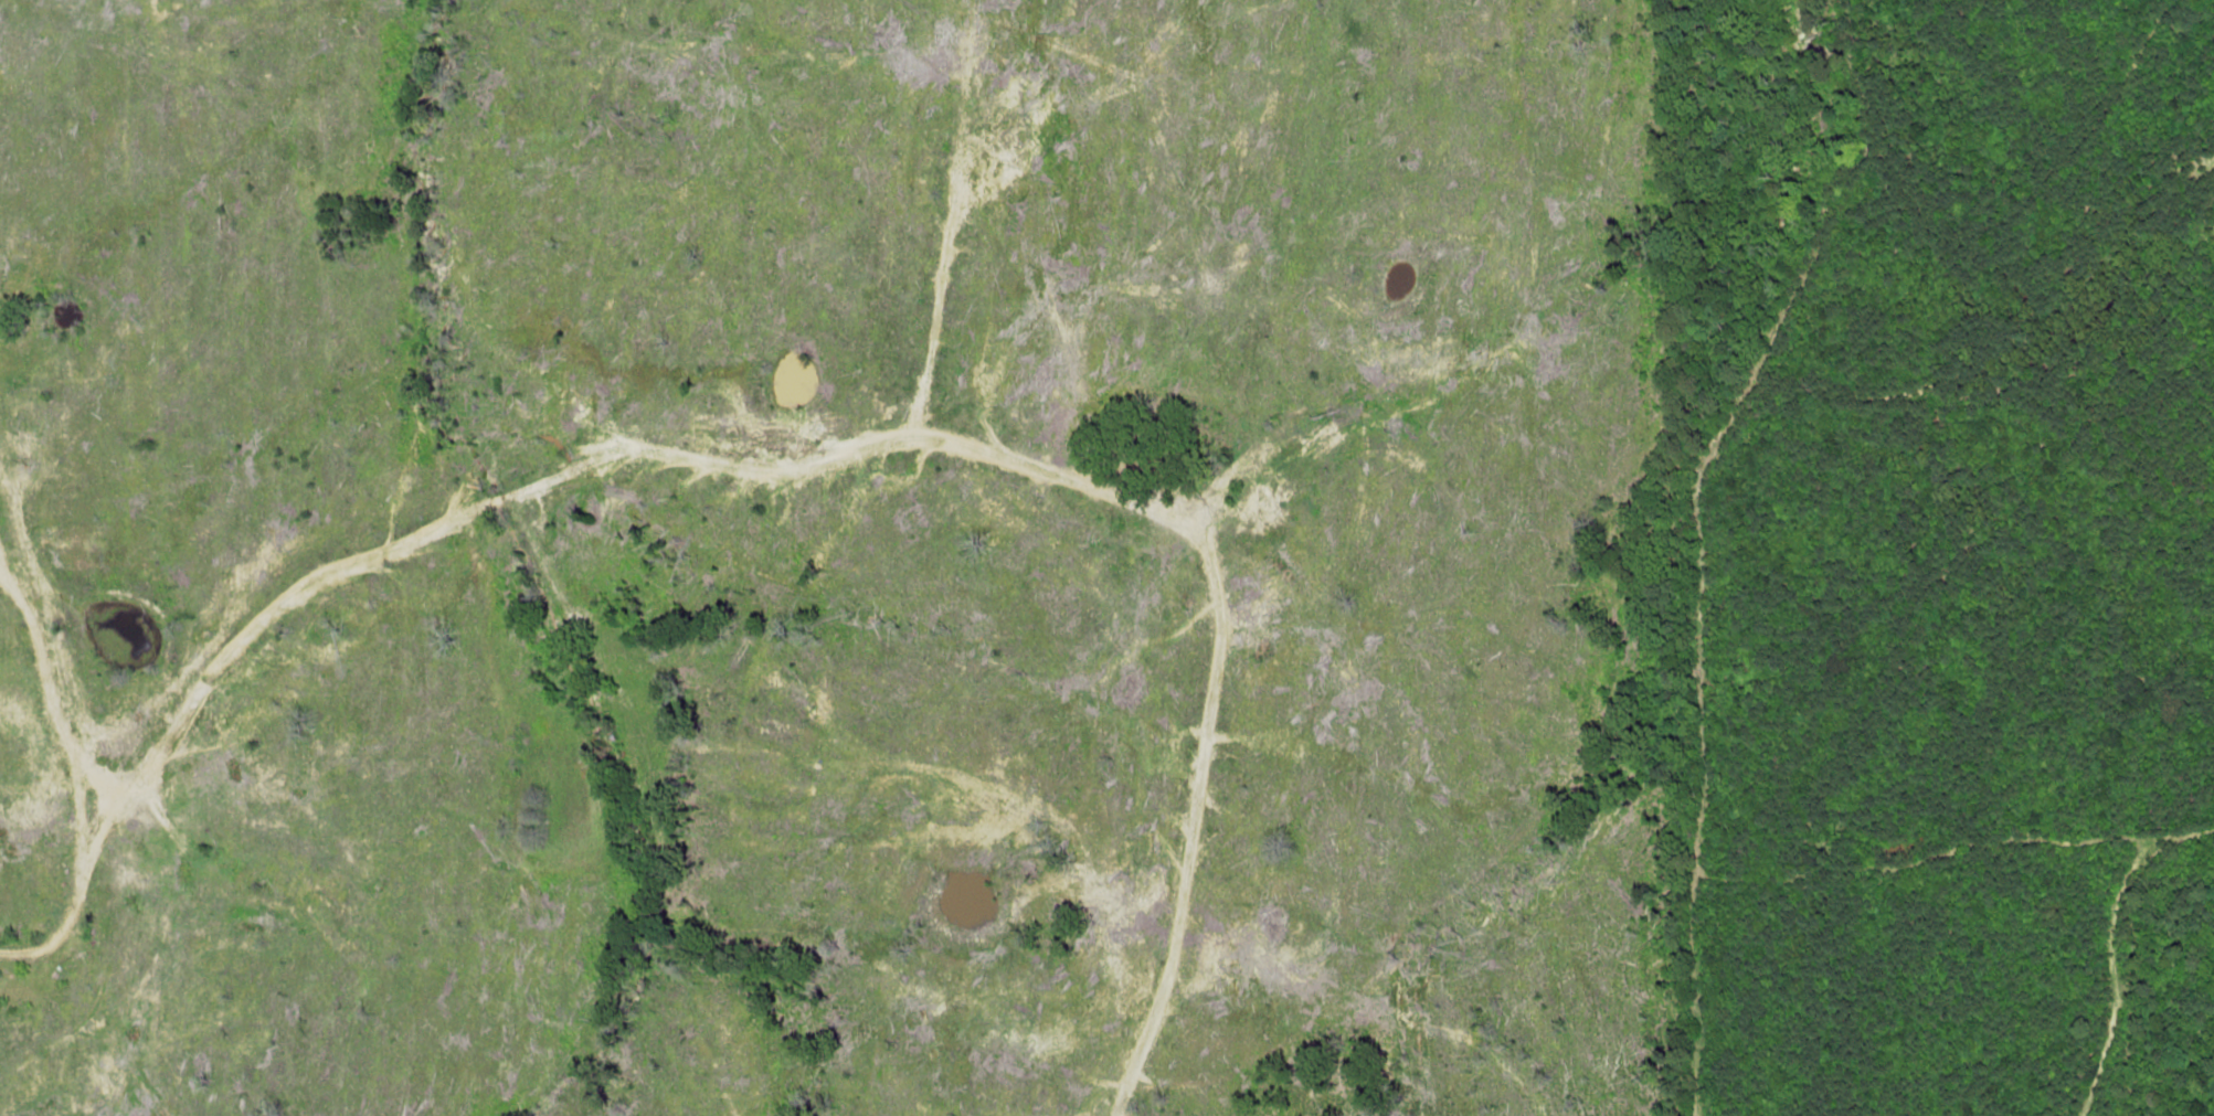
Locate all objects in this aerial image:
building: (61, 954)

